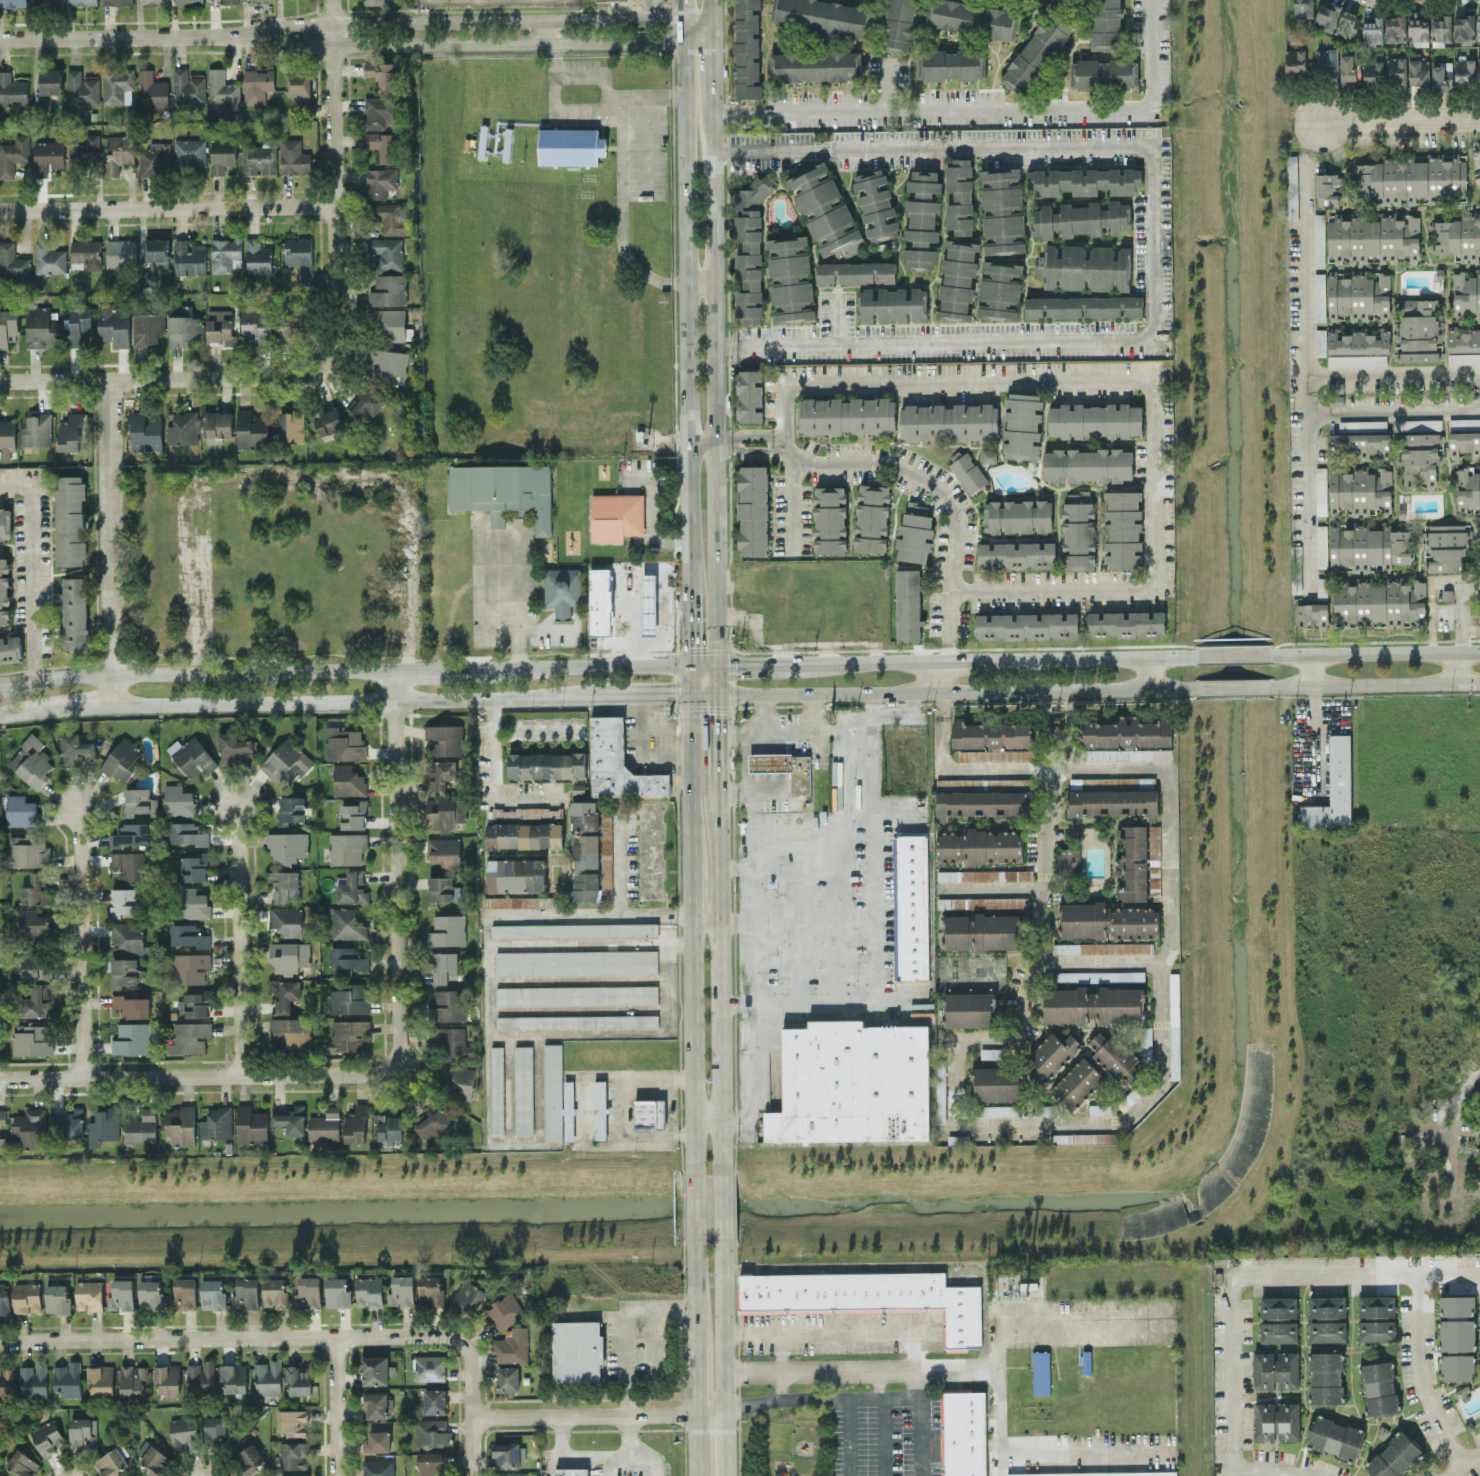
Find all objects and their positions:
building: (603, 0)
building: (48, 1)
building: (153, 1)
building: (231, 1)
building: (13, 2)
building: (82, 2)
building: (117, 2)
building: (189, 2)
building: (373, 2)
building: (1303, 8)
road: (650, 15)
road: (712, 15)
building: (822, 16)
building: (1326, 17)
building: (974, 18)
building: (1347, 22)
building: (1105, 24)
building: (899, 25)
building: (1463, 26)
building: (1478, 26)
building: (1417, 27)
building: (1395, 28)
building: (1373, 30)
building: (1441, 30)
road: (356, 33)
building: (747, 49)
building: (1038, 50)
building: (1295, 60)
building: (1327, 63)
road: (713, 64)
building: (951, 64)
building: (815, 65)
building: (1373, 67)
building: (1479, 67)
building: (1350, 69)
building: (1396, 69)
building: (1465, 70)
building: (1418, 71)
building: (1104, 73)
building: (383, 74)
building: (1441, 76)
building: (50, 81)
building: (117, 83)
building: (298, 83)
building: (257, 84)
building: (187, 87)
road: (888, 87)
building: (81, 88)
building: (222, 89)
building: (12, 90)
building: (153, 91)
road: (584, 107)
building: (379, 112)
road: (991, 112)
road: (1394, 118)
road: (1309, 136)
building: (482, 140)
building: (507, 143)
building: (383, 145)
building: (570, 146)
road: (1027, 146)
building: (85, 151)
building: (119, 151)
building: (189, 152)
building: (13, 154)
building: (221, 154)
building: (47, 156)
building: (293, 157)
building: (154, 158)
building: (258, 159)
building: (1412, 178)
building: (1084, 180)
building: (380, 181)
building: (1292, 186)
road: (335, 187)
building: (1327, 189)
building: (960, 196)
building: (876, 204)
road: (168, 206)
road: (620, 208)
building: (1002, 210)
building: (826, 211)
building: (389, 217)
building: (1080, 218)
building: (922, 219)
building: (1457, 236)
building: (1373, 238)
building: (1319, 240)
building: (750, 248)
building: (157, 251)
building: (120, 252)
building: (386, 252)
building: (86, 253)
building: (225, 254)
building: (299, 255)
building: (189, 257)
building: (258, 257)
building: (49, 258)
building: (12, 262)
building: (1086, 267)
building: (856, 272)
building: (958, 278)
building: (790, 279)
road: (700, 281)
building: (999, 289)
building: (388, 290)
building: (1358, 294)
building: (1466, 294)
road: (685, 295)
building: (1319, 296)
building: (892, 303)
building: (1083, 306)
road: (841, 317)
building: (113, 324)
building: (257, 324)
building: (389, 324)
building: (182, 325)
building: (8, 326)
building: (41, 326)
building: (219, 326)
building: (147, 327)
building: (292, 327)
building: (1419, 330)
road: (935, 336)
building: (1320, 341)
building: (1358, 342)
building: (1463, 344)
building: (1356, 359)
building: (387, 364)
road: (1309, 376)
road: (163, 377)
road: (897, 378)
road: (716, 380)
road: (1394, 391)
building: (749, 395)
building: (366, 403)
building: (845, 415)
building: (327, 420)
building: (1094, 420)
building: (949, 422)
building: (1417, 424)
building: (218, 425)
building: (1022, 425)
building: (289, 426)
building: (183, 428)
building: (251, 429)
building: (36, 430)
building: (146, 430)
building: (70, 432)
road: (754, 438)
building: (7, 439)
road: (701, 441)
building: (1359, 444)
building: (1420, 458)
building: (1087, 464)
building: (967, 471)
road: (299, 472)
road: (1166, 478)
building: (1361, 491)
building: (1321, 492)
road: (950, 499)
building: (753, 510)
building: (1017, 515)
building: (616, 516)
building: (872, 517)
building: (830, 519)
building: (70, 520)
building: (5, 523)
building: (1123, 529)
building: (1078, 530)
road: (494, 532)
building: (915, 532)
road: (109, 540)
road: (621, 545)
building: (1372, 545)
building: (1016, 554)
road: (31, 565)
road: (830, 575)
road: (1463, 583)
road: (1062, 585)
building: (4, 589)
building: (562, 589)
building: (599, 590)
building: (1379, 603)
building: (908, 604)
building: (75, 612)
building: (1311, 613)
building: (1126, 623)
building: (1027, 625)
road: (688, 626)
road: (1462, 639)
road: (784, 640)
road: (1382, 650)
road: (784, 651)
road: (1105, 653)
road: (1240, 653)
road: (984, 656)
road: (869, 658)
traffic signals: (688, 662)
road: (704, 662)
traffic signals: (720, 662)
road: (754, 662)
road: (343, 669)
road: (1312, 669)
road: (1148, 670)
road: (688, 677)
road: (720, 677)
road: (1380, 683)
road: (948, 687)
road: (1236, 687)
road: (955, 688)
traffic signals: (688, 692)
road: (704, 692)
traffic signals: (720, 692)
road: (655, 693)
road: (1057, 699)
road: (366, 702)
road: (81, 706)
road: (765, 710)
road: (25, 713)
building: (1127, 732)
road: (720, 733)
road: (732, 734)
building: (445, 738)
road: (1313, 739)
building: (992, 740)
building: (345, 742)
building: (232, 746)
building: (76, 748)
building: (192, 756)
building: (123, 758)
building: (31, 761)
building: (286, 762)
building: (618, 763)
building: (546, 765)
building: (785, 768)
road: (745, 772)
building: (442, 775)
road: (688, 777)
building: (348, 780)
road: (656, 784)
building: (1333, 788)
road: (733, 791)
road: (514, 796)
building: (178, 800)
building: (138, 801)
building: (985, 802)
building: (1113, 802)
building: (290, 809)
building: (21, 810)
building: (445, 812)
building: (535, 812)
building: (353, 815)
road: (622, 817)
building: (187, 833)
building: (130, 834)
building: (524, 834)
road: (1053, 837)
building: (1154, 843)
building: (606, 846)
building: (980, 846)
building: (287, 847)
building: (347, 847)
building: (27, 850)
building: (585, 850)
building: (444, 852)
building: (1069, 860)
building: (1133, 862)
building: (130, 865)
building: (194, 866)
road: (737, 866)
road: (399, 870)
building: (516, 874)
building: (984, 875)
building: (283, 884)
building: (352, 887)
building: (35, 889)
building: (442, 889)
road: (690, 889)
road: (1000, 890)
building: (123, 900)
building: (518, 901)
building: (191, 902)
building: (982, 902)
building: (910, 906)
road: (594, 910)
road: (706, 917)
building: (287, 920)
road: (737, 921)
building: (1108, 921)
building: (32, 923)
building: (347, 924)
road: (876, 924)
building: (447, 930)
building: (574, 930)
building: (981, 931)
building: (188, 935)
building: (129, 936)
road: (78, 940)
road: (239, 940)
building: (1103, 947)
building: (289, 956)
building: (348, 959)
building: (576, 962)
road: (1049, 963)
building: (35, 965)
building: (443, 966)
building: (190, 967)
road: (720, 968)
building: (124, 971)
building: (1098, 975)
building: (284, 994)
building: (576, 994)
building: (349, 998)
building: (36, 1001)
building: (197, 1003)
building: (1093, 1004)
building: (132, 1005)
building: (448, 1005)
building: (968, 1009)
building: (576, 1021)
building: (1174, 1025)
building: (289, 1033)
building: (347, 1035)
building: (189, 1036)
building: (29, 1038)
building: (132, 1038)
road: (691, 1039)
building: (455, 1044)
building: (1146, 1044)
building: (990, 1052)
road: (753, 1055)
building: (1051, 1055)
building: (1115, 1056)
road: (201, 1077)
building: (459, 1080)
building: (853, 1082)
building: (997, 1083)
building: (1076, 1083)
building: (497, 1089)
building: (523, 1089)
building: (552, 1091)
building: (940, 1095)
building: (600, 1109)
building: (568, 1110)
building: (994, 1110)
building: (649, 1113)
road: (707, 1114)
road: (738, 1114)
building: (2, 1115)
road: (579, 1115)
building: (290, 1118)
building: (433, 1121)
building: (217, 1123)
building: (356, 1123)
building: (68, 1124)
building: (251, 1124)
building: (325, 1124)
building: (104, 1125)
building: (180, 1125)
building: (31, 1127)
building: (141, 1127)
building: (389, 1127)
building: (1093, 1137)
building: (3, 1140)
road: (722, 1199)
road: (693, 1200)
road: (845, 1261)
road: (1232, 1285)
building: (401, 1290)
building: (430, 1290)
building: (308, 1291)
building: (336, 1291)
building: (369, 1291)
road: (694, 1291)
building: (184, 1293)
building: (212, 1293)
building: (246, 1293)
building: (275, 1293)
building: (89, 1294)
building: (121, 1294)
building: (150, 1294)
building: (469, 1295)
building: (27, 1297)
building: (870, 1297)
building: (57, 1298)
building: (4, 1299)
building: (1376, 1305)
building: (1457, 1305)
building: (1278, 1306)
building: (1327, 1306)
building: (504, 1310)
road: (1020, 1317)
road: (724, 1323)
road: (862, 1323)
building: (1376, 1330)
building: (1278, 1331)
building: (1327, 1331)
building: (1457, 1334)
road: (217, 1335)
road: (627, 1336)
building: (511, 1345)
building: (573, 1351)
road: (822, 1366)
building: (429, 1367)
road: (960, 1367)
road: (1200, 1367)
building: (1457, 1367)
building: (374, 1370)
building: (1275, 1370)
building: (1040, 1372)
road: (1418, 1373)
building: (201, 1375)
building: (234, 1377)
building: (268, 1377)
building: (1327, 1377)
building: (67, 1378)
building: (167, 1378)
building: (507, 1378)
building: (34, 1379)
building: (101, 1379)
building: (132, 1379)
road: (695, 1379)
building: (298, 1380)
building: (7, 1381)
building: (1379, 1387)
road: (474, 1390)
road: (858, 1400)
building: (434, 1401)
road: (337, 1405)
building: (376, 1405)
road: (710, 1411)
road: (585, 1412)
building: (1276, 1420)
building: (293, 1422)
building: (216, 1430)
building: (431, 1432)
building: (83, 1433)
building: (183, 1433)
building: (964, 1433)
building: (47, 1437)
building: (1335, 1437)
building: (378, 1440)
road: (725, 1443)
road: (696, 1444)
road: (1103, 1452)
building: (293, 1454)
building: (506, 1454)
road: (593, 1455)
building: (1394, 1456)
building: (153, 1459)
building: (248, 1459)
building: (113, 1462)
building: (22, 1463)
building: (429, 1463)
road: (1463, 1463)
road: (606, 1465)
building: (378, 1467)
building: (571, 1471)
building: (1097, 1473)
building: (510, 1474)
building: (292, 1475)

